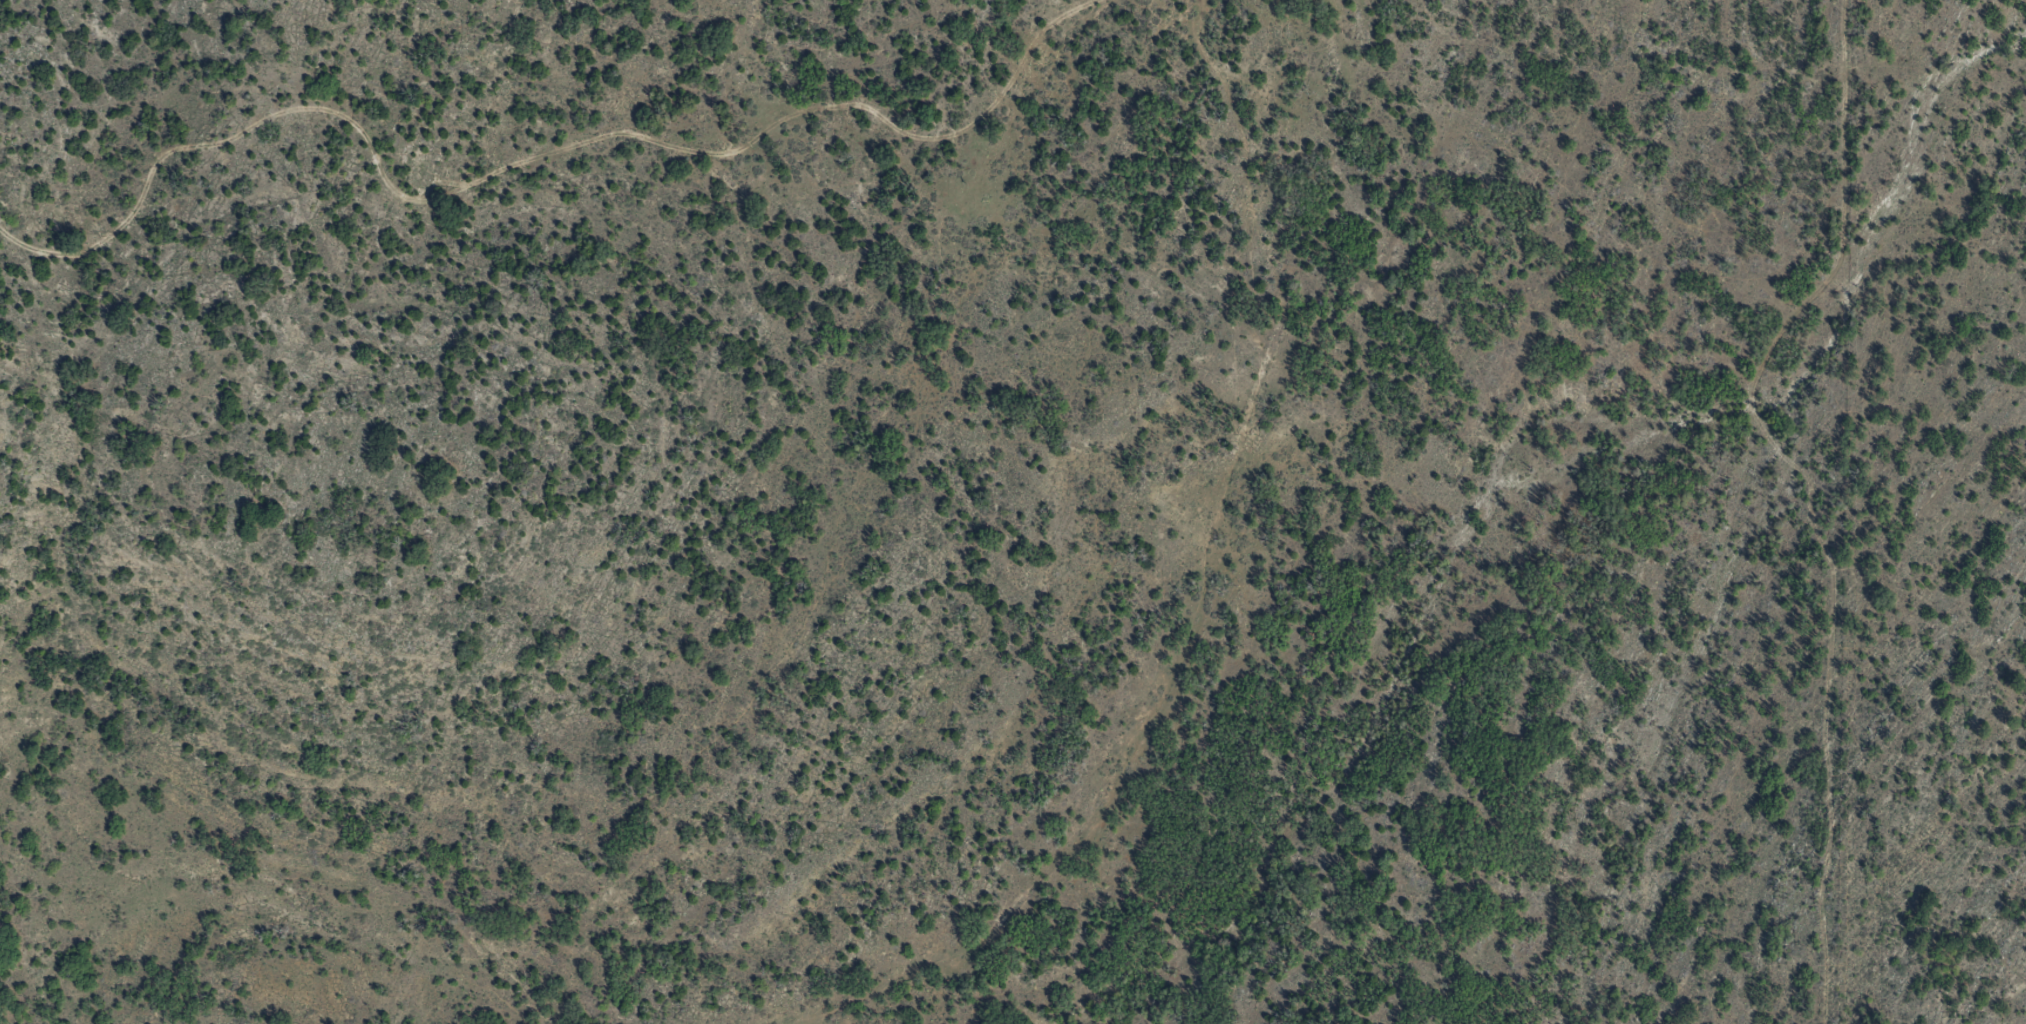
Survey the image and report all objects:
road: (1031, 104)
road: (417, 163)

